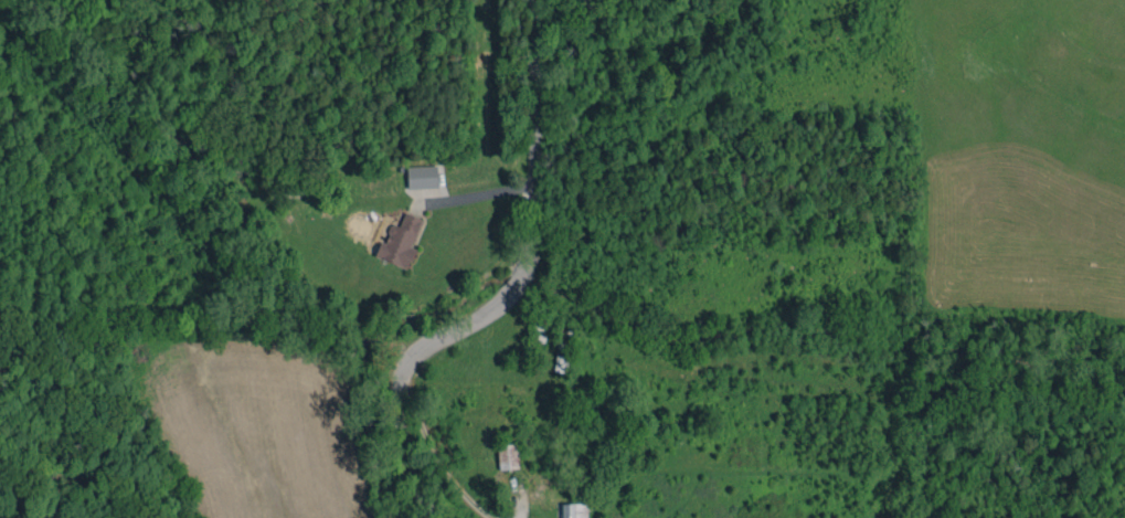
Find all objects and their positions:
building: (422, 176)
road: (474, 198)
building: (400, 241)
road: (512, 287)
building: (561, 362)
building: (508, 455)
road: (434, 459)
building: (574, 510)

